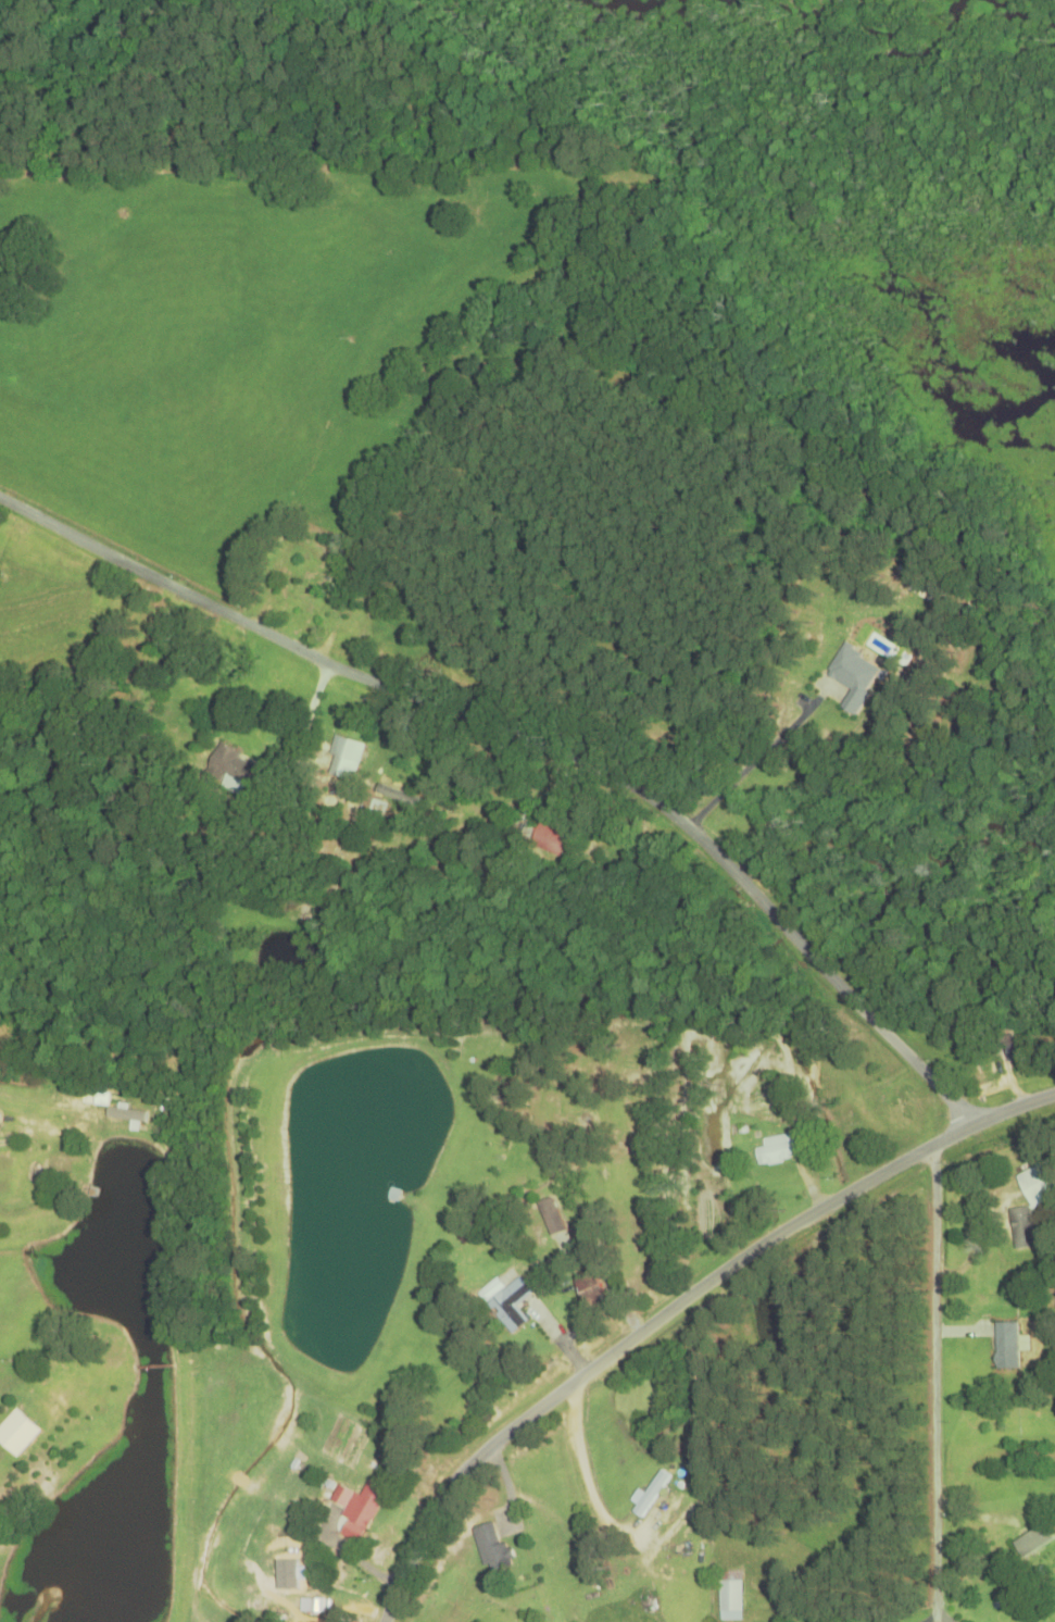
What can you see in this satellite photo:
building: (921, 588)
building: (853, 677)
road: (542, 735)
building: (344, 759)
building: (231, 766)
building: (328, 796)
building: (548, 839)
building: (1009, 1048)
building: (900, 1106)
building: (777, 1150)
building: (1038, 1181)
building: (551, 1216)
building: (588, 1286)
building: (506, 1302)
road: (674, 1308)
building: (1006, 1346)
road: (935, 1387)
river: (152, 1415)
building: (16, 1434)
building: (309, 1490)
building: (651, 1494)
building: (341, 1498)
building: (366, 1506)
road: (533, 1529)
building: (490, 1547)
building: (729, 1596)
building: (319, 1607)
building: (502, 1619)

